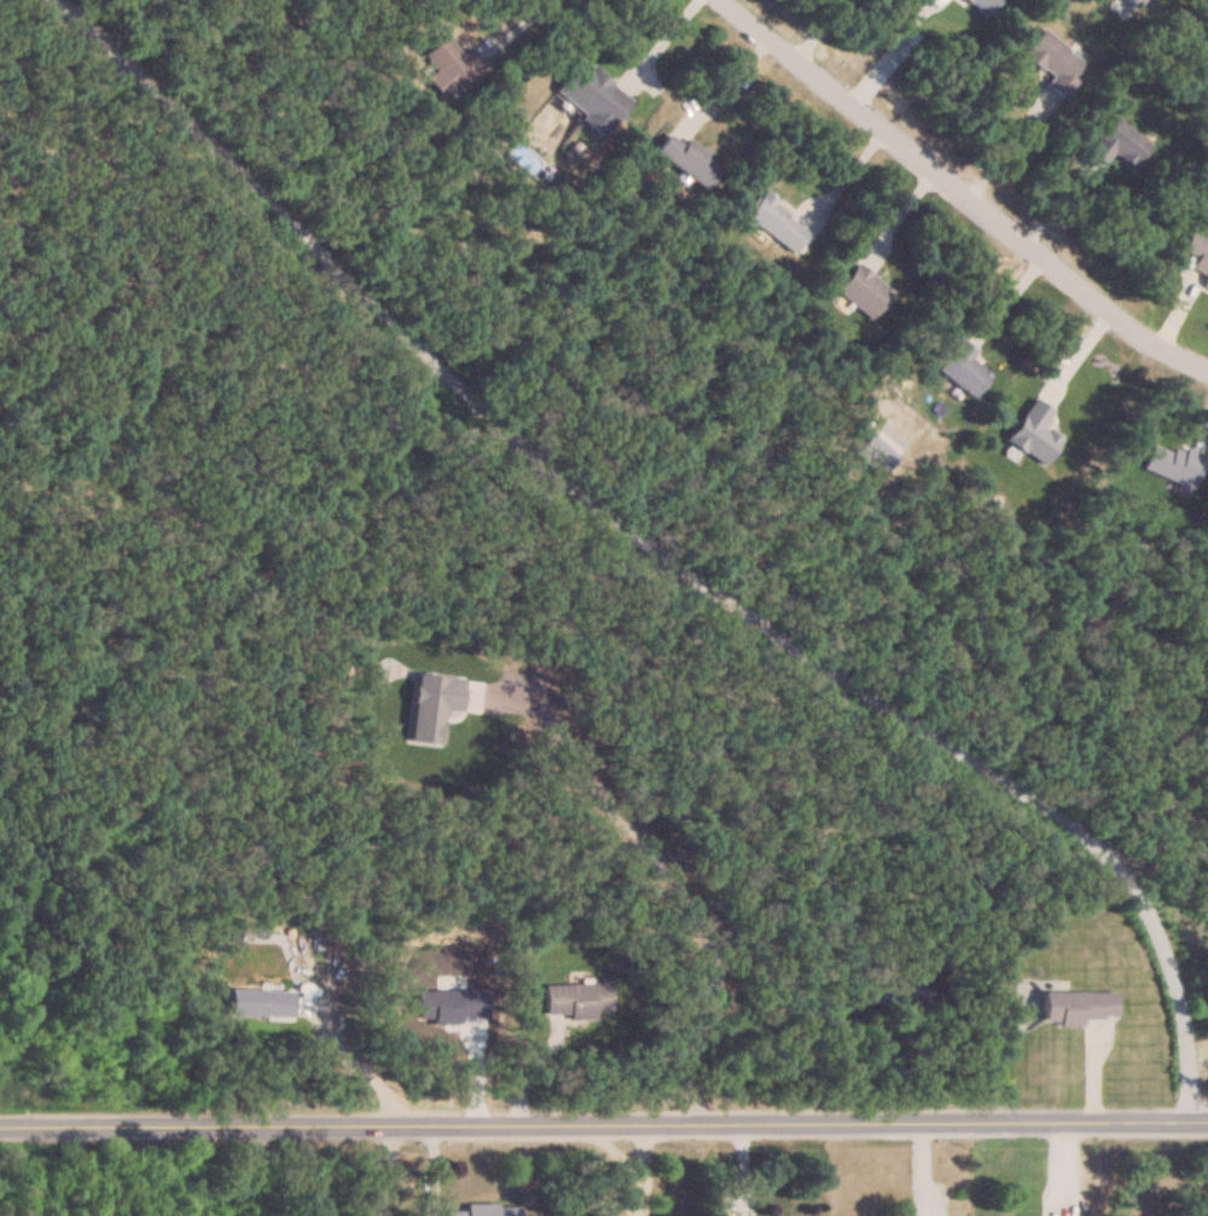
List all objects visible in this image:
building: (983, 5)
road: (516, 16)
road: (812, 28)
road: (657, 41)
road: (887, 50)
building: (1053, 62)
building: (451, 63)
building: (591, 95)
road: (1006, 142)
building: (1119, 145)
building: (687, 158)
road: (962, 192)
building: (774, 222)
building: (1197, 254)
building: (863, 290)
building: (963, 367)
road: (649, 551)
road: (661, 871)
building: (576, 1000)
building: (1080, 1006)
road: (359, 1067)
road: (603, 1121)
road: (639, 1168)
road: (393, 1170)
building: (486, 1210)

